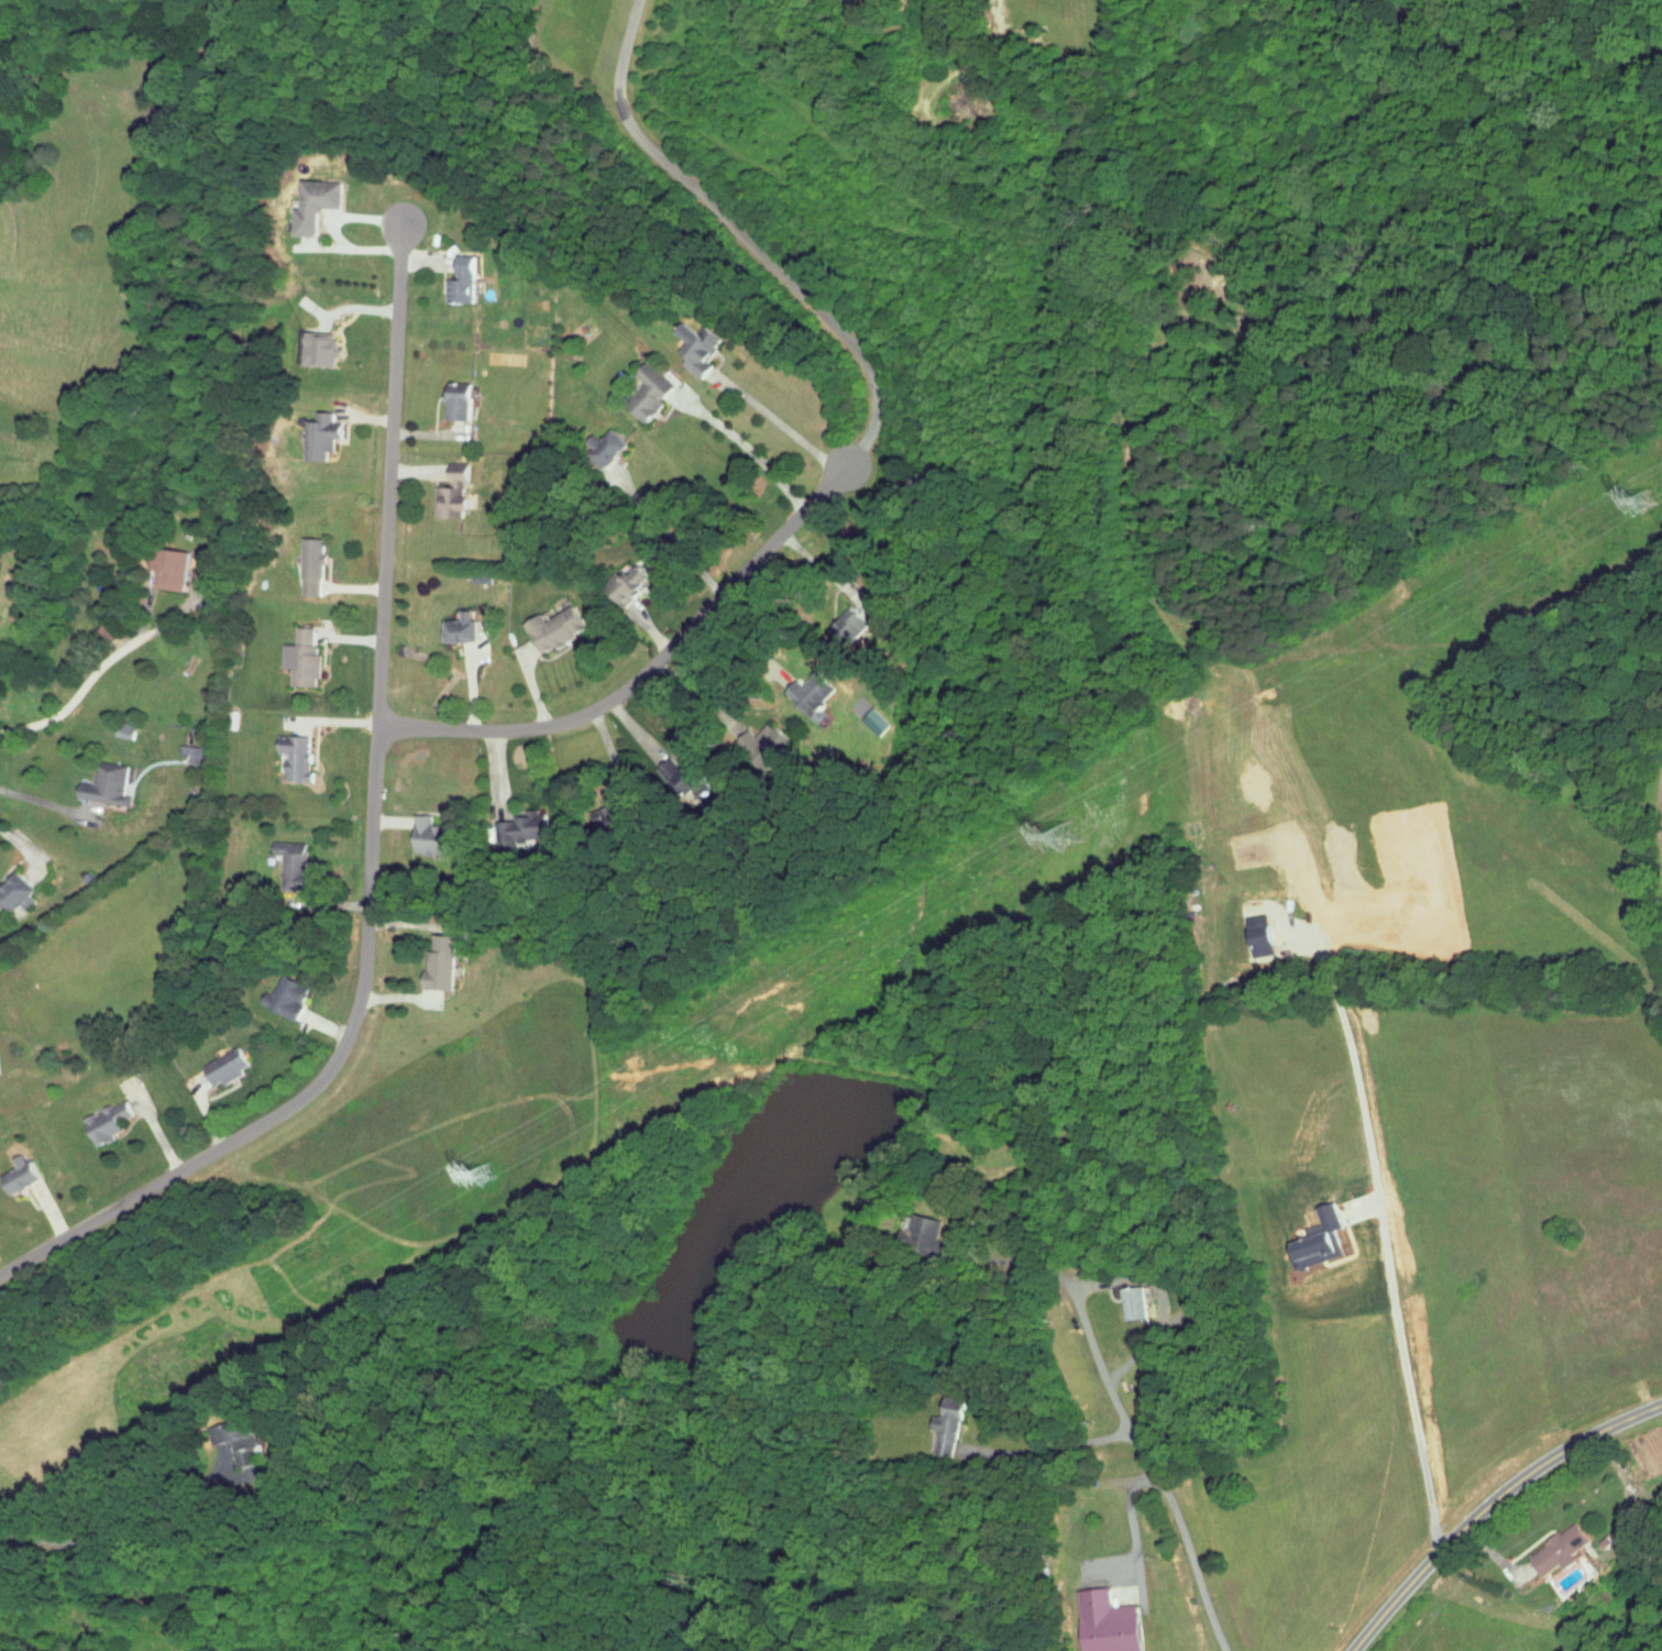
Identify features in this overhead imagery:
road: (516, 36)
building: (313, 203)
road: (731, 227)
road: (423, 265)
building: (460, 280)
road: (367, 309)
building: (319, 348)
building: (647, 392)
building: (456, 400)
road: (371, 418)
road: (780, 426)
road: (418, 434)
building: (319, 436)
building: (605, 448)
road: (752, 454)
road: (412, 471)
building: (450, 496)
power tower: (1648, 499)
road: (671, 539)
road: (812, 560)
building: (309, 566)
building: (166, 569)
building: (626, 585)
road: (679, 608)
building: (848, 625)
building: (459, 629)
building: (552, 629)
road: (652, 631)
road: (738, 634)
road: (354, 638)
building: (302, 656)
road: (657, 658)
road: (88, 671)
road: (696, 689)
road: (533, 692)
building: (808, 694)
road: (626, 718)
road: (335, 722)
building: (762, 744)
road: (610, 748)
building: (190, 752)
building: (294, 756)
road: (496, 760)
building: (104, 784)
road: (43, 803)
road: (1655, 807)
building: (529, 827)
building: (428, 836)
power tower: (1063, 836)
road: (370, 843)
road: (18, 845)
building: (289, 865)
building: (13, 893)
road: (332, 904)
building: (1258, 937)
building: (438, 964)
road: (397, 997)
building: (284, 998)
road: (324, 1026)
building: (223, 1067)
road: (205, 1109)
building: (104, 1123)
road: (154, 1125)
building: (18, 1176)
power tower: (484, 1176)
building: (926, 1230)
building: (1317, 1239)
building: (1132, 1301)
road: (1407, 1373)
road: (1138, 1382)
road: (1121, 1404)
road: (1661, 1406)
building: (947, 1426)
road: (1066, 1448)
building: (233, 1449)
road: (1627, 1483)
road: (1134, 1503)
road: (1492, 1506)
road: (103, 1531)
road: (1523, 1531)
building: (1559, 1549)
building: (1105, 1622)

